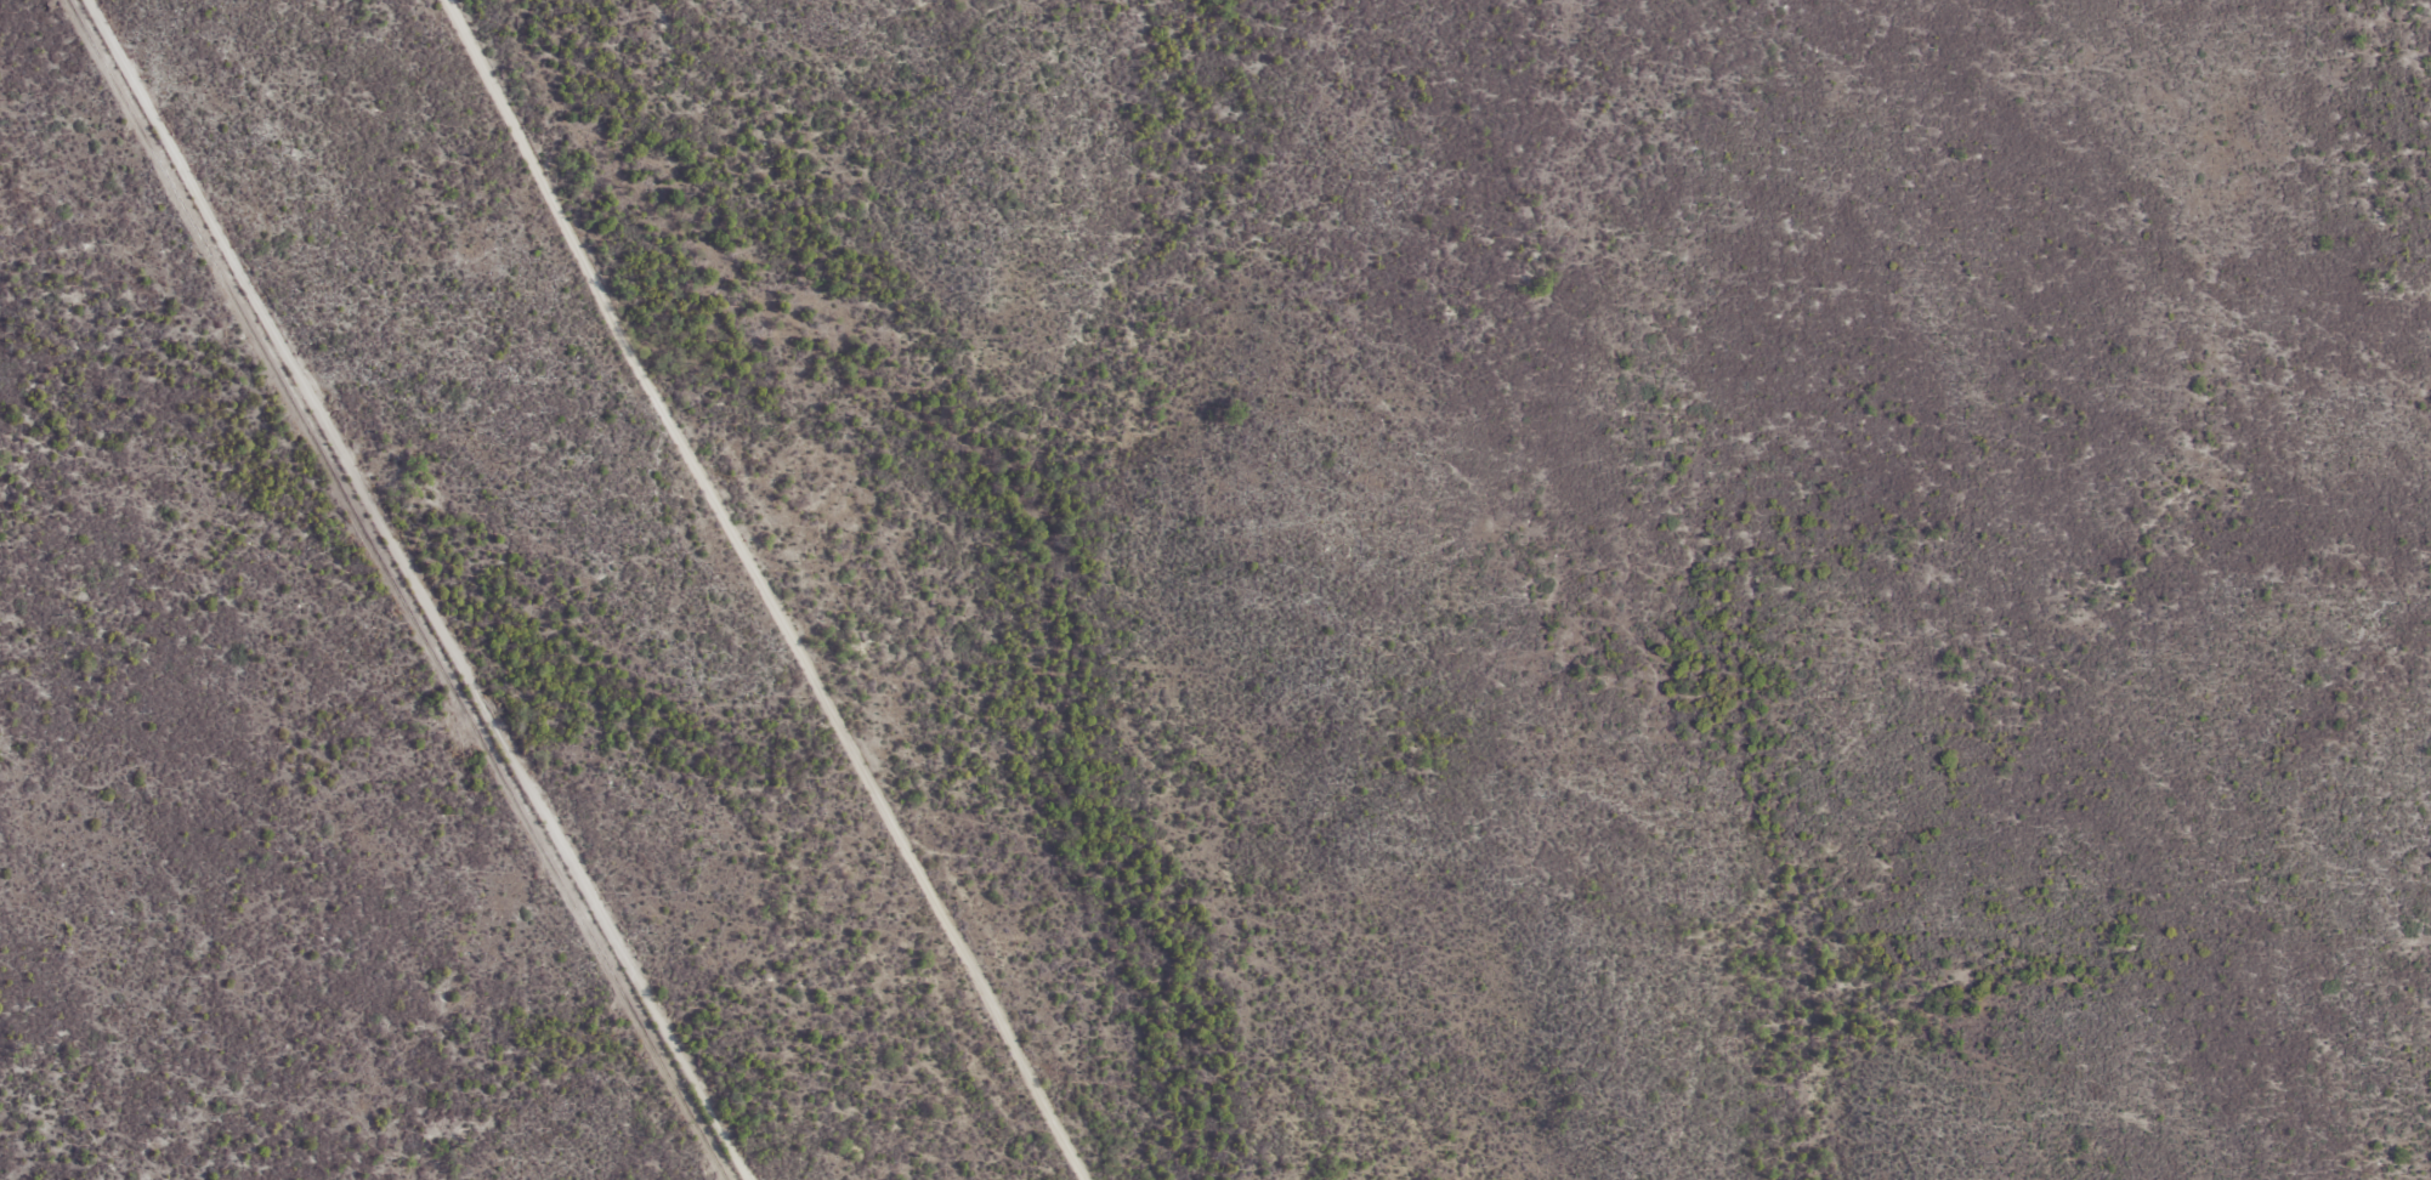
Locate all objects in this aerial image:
road: (776, 591)

